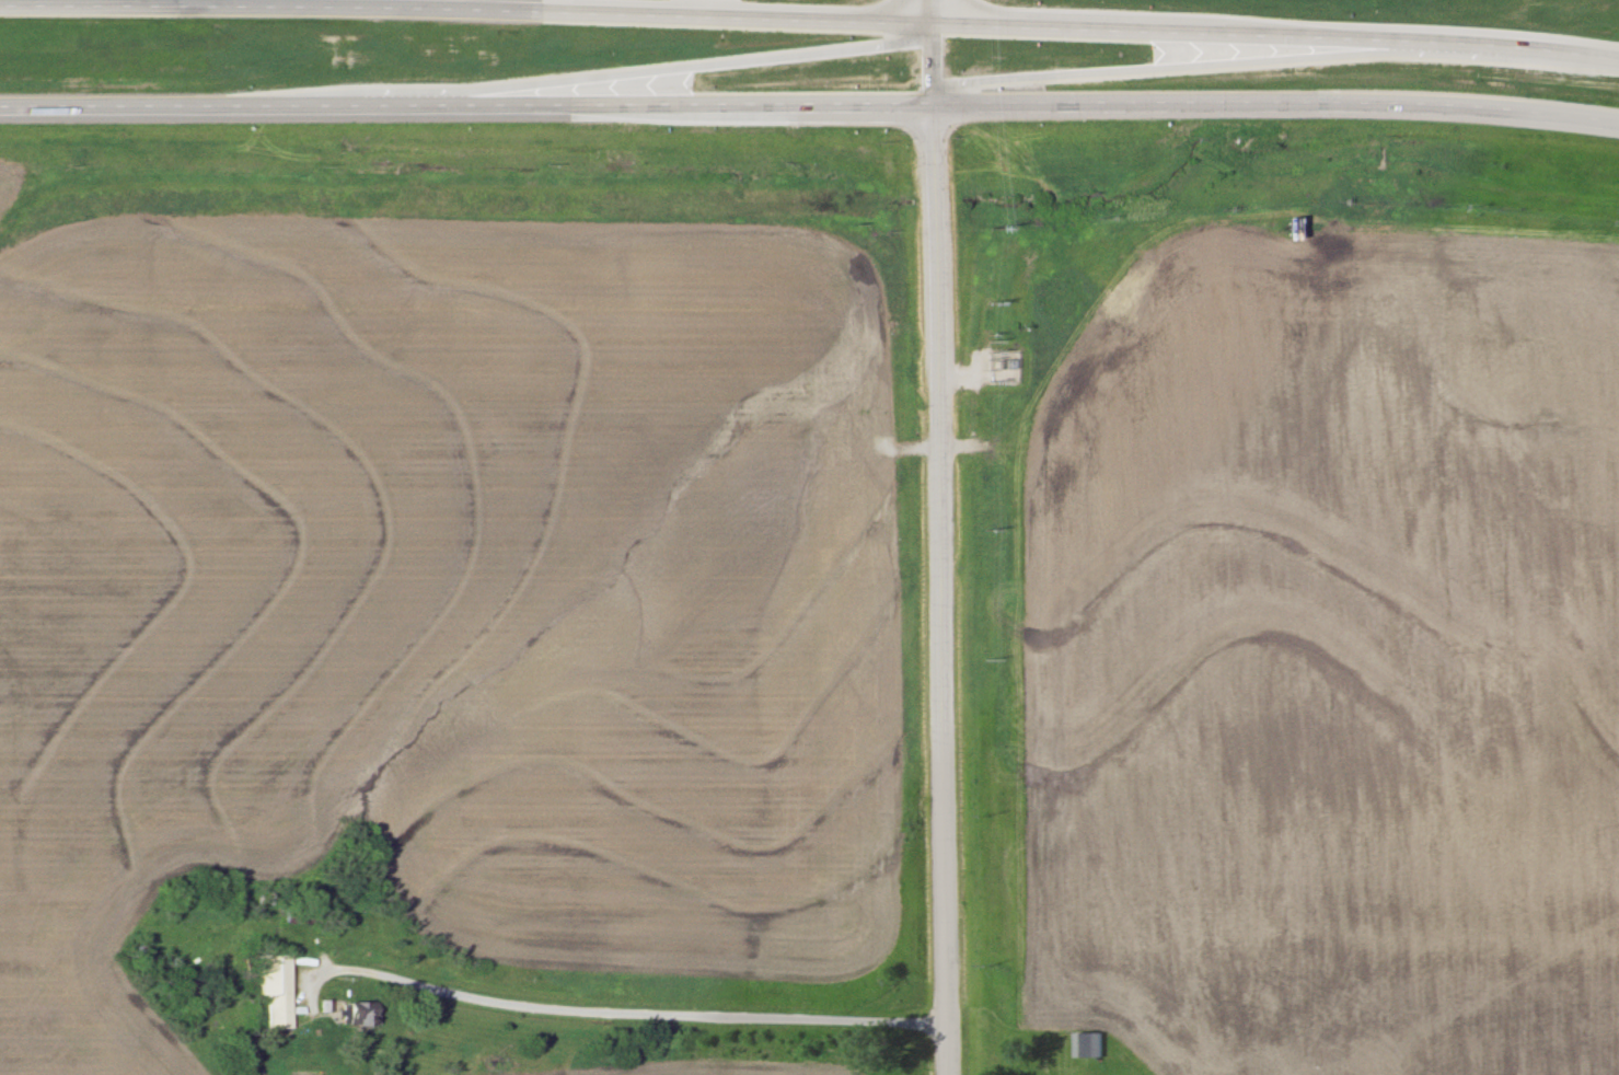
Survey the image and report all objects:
road: (499, 5)
road: (464, 11)
road: (928, 11)
road: (1274, 31)
road: (927, 65)
road: (1196, 65)
road: (645, 71)
road: (1273, 103)
road: (463, 109)
road: (939, 590)
building: (275, 992)
building: (360, 1014)
road: (589, 1014)
building: (1084, 1044)

